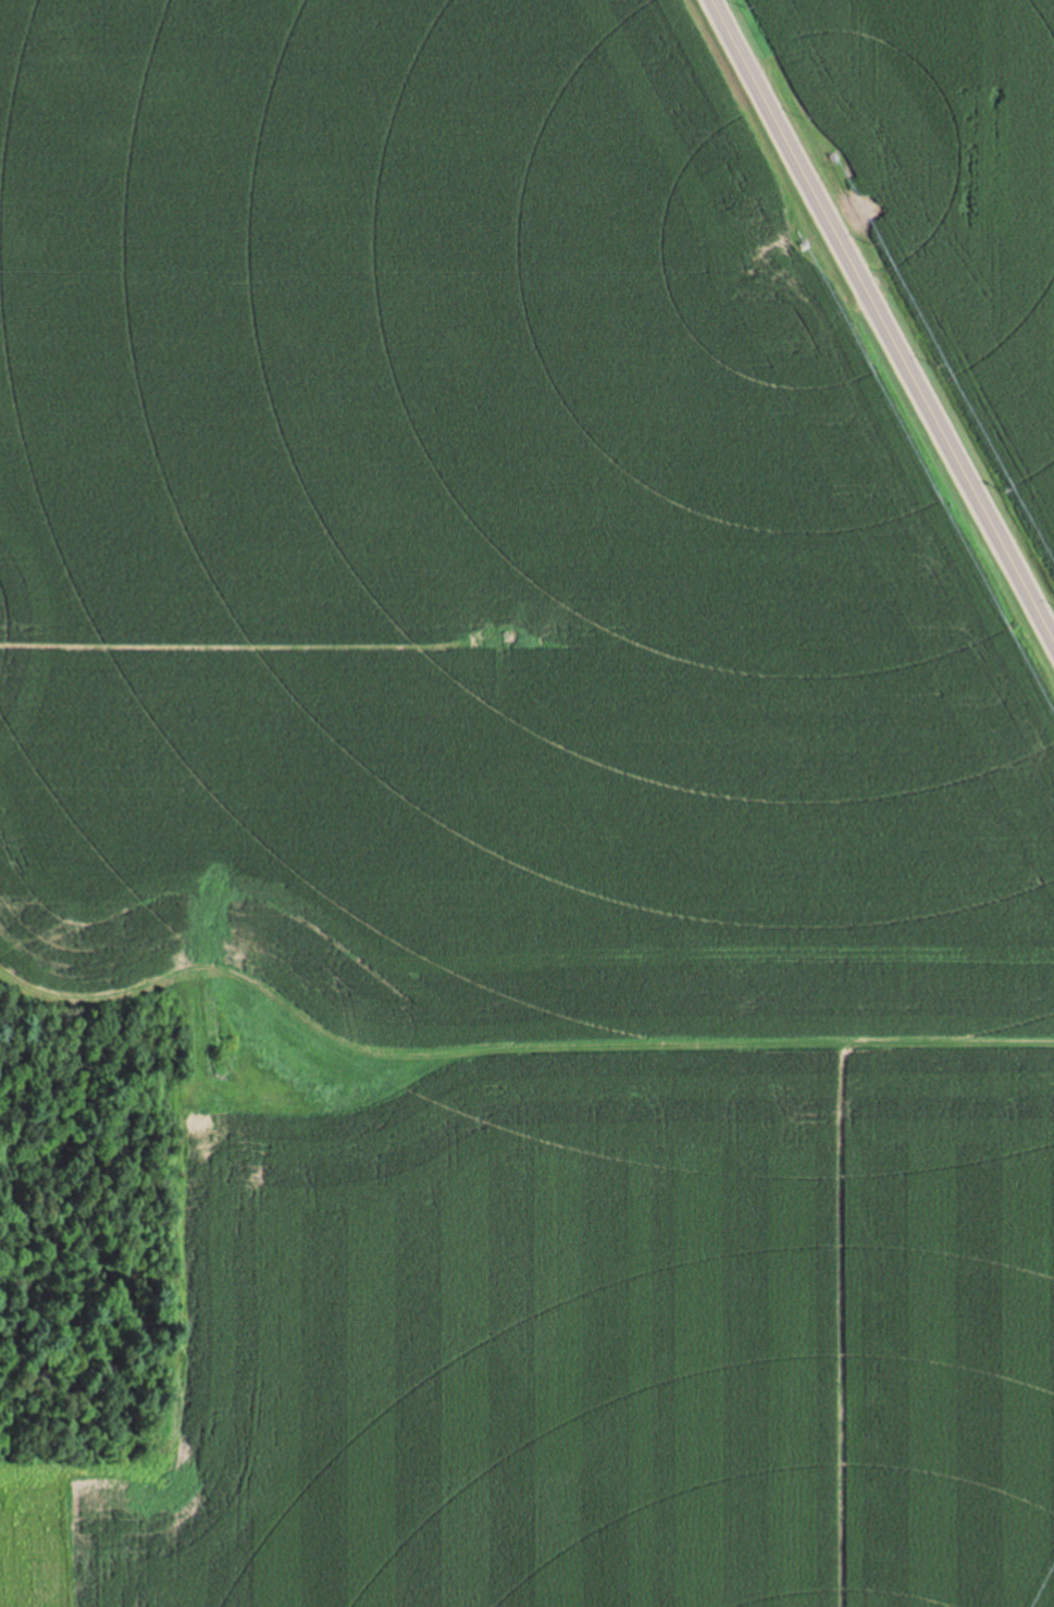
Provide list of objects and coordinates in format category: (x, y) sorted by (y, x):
road: (882, 317)

